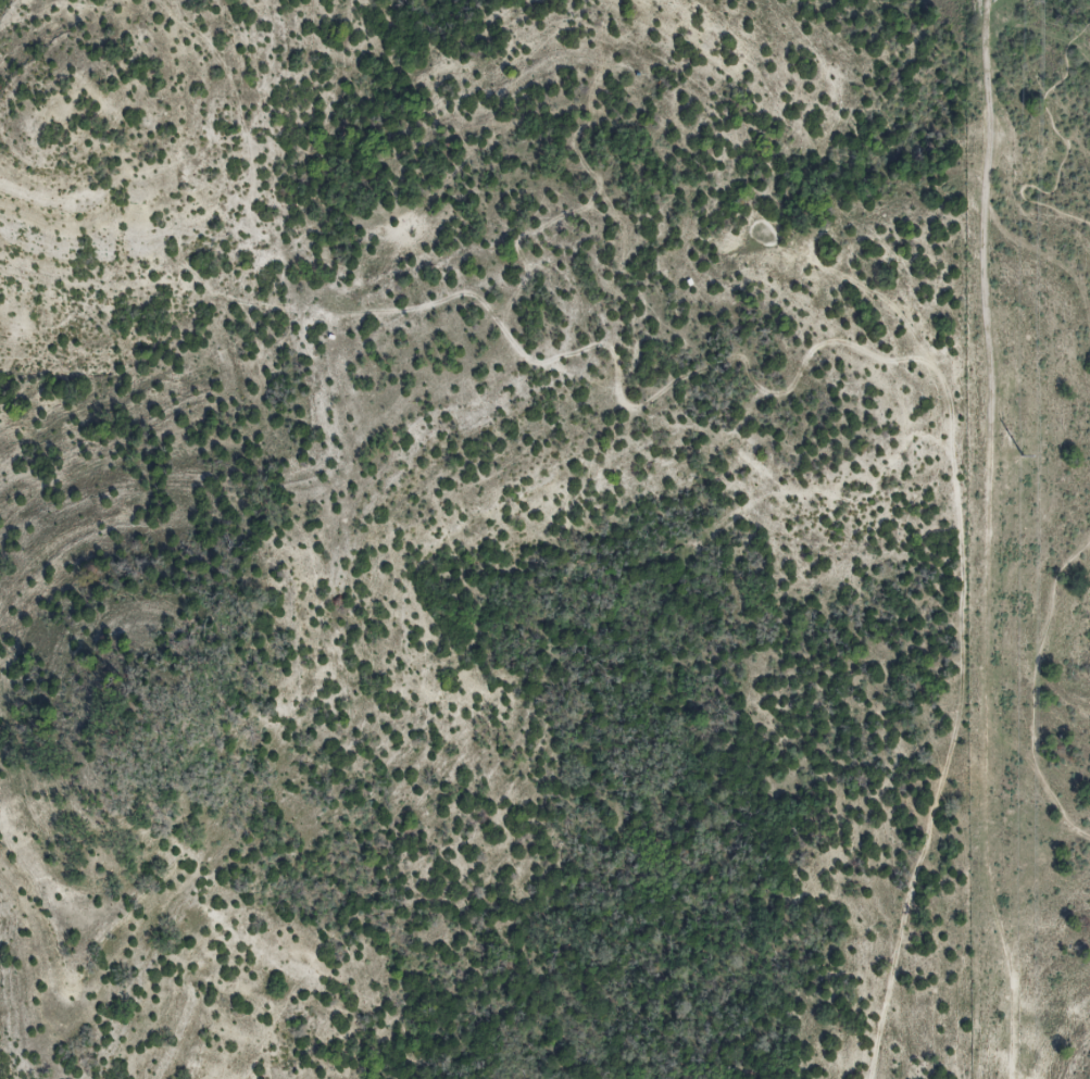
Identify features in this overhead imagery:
road: (1068, 151)
road: (985, 195)
power tower: (1020, 455)
road: (1035, 688)

